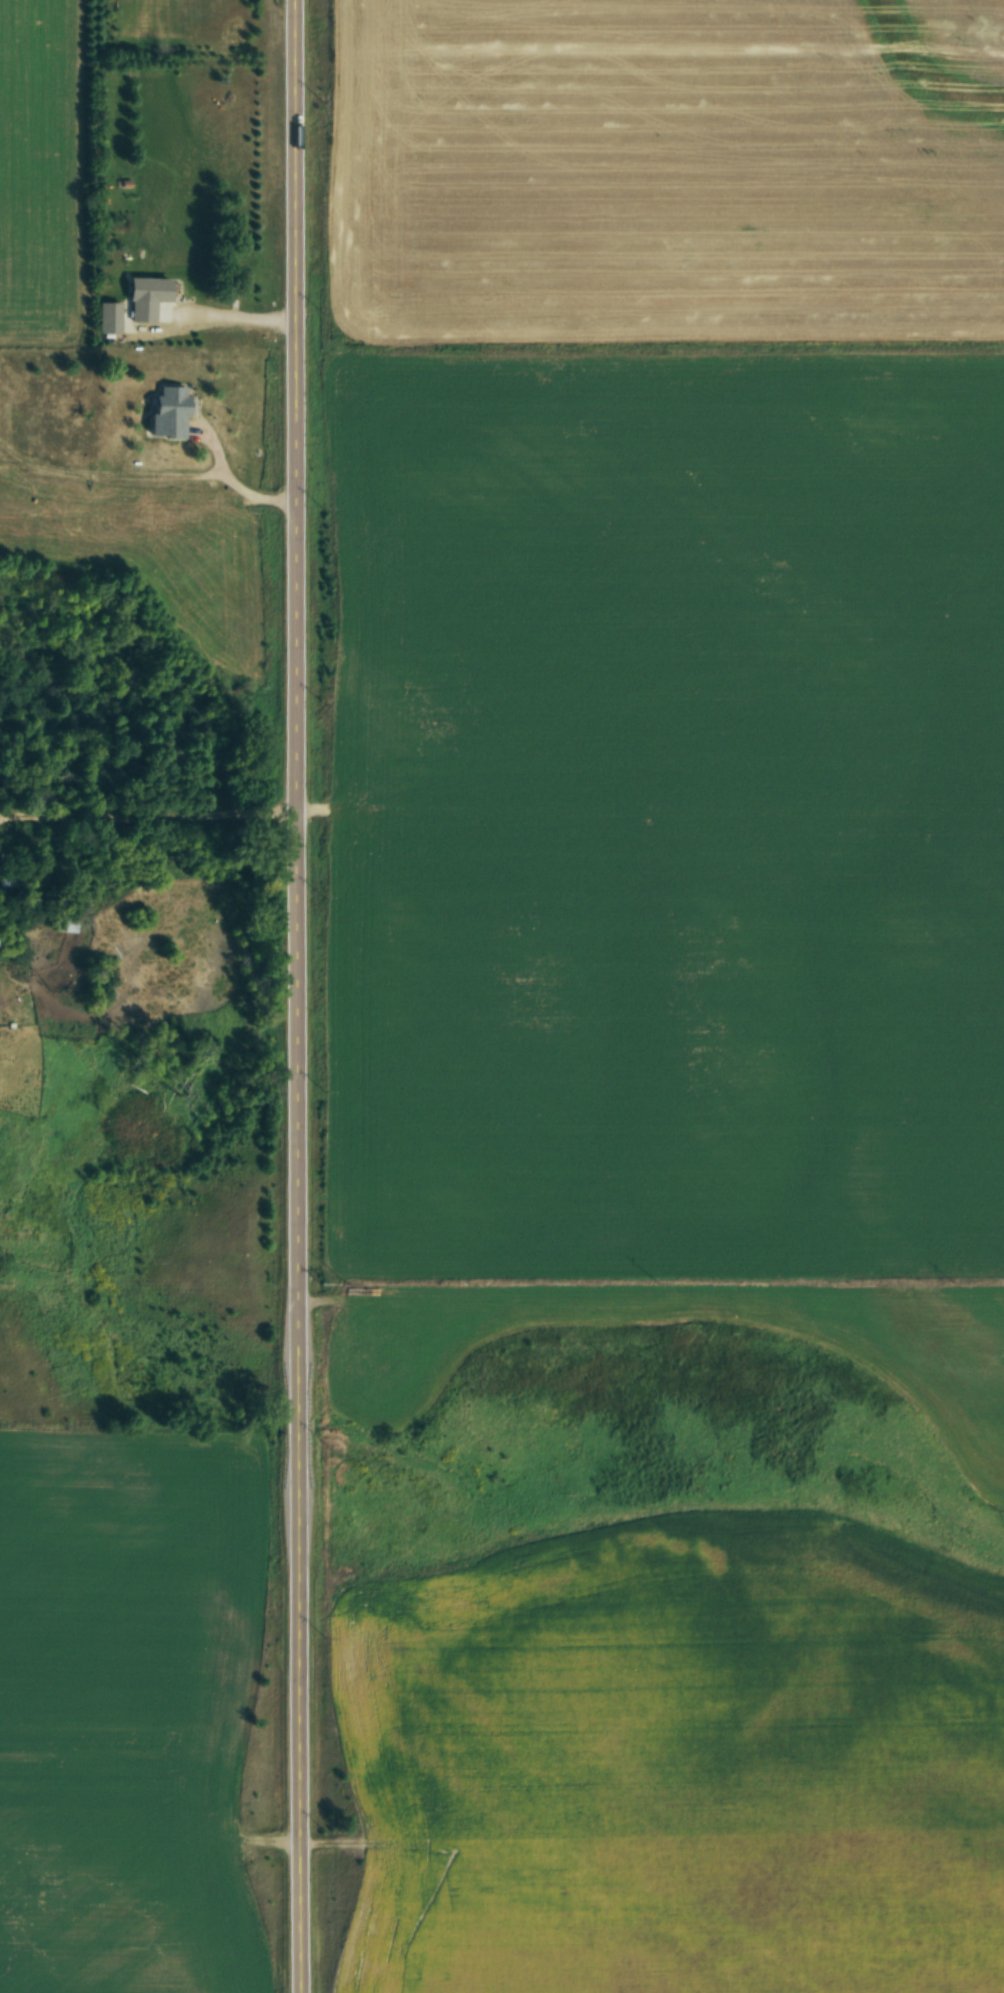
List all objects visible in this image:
road: (220, 323)
building: (166, 411)
road: (299, 996)
power tower: (328, 1279)

